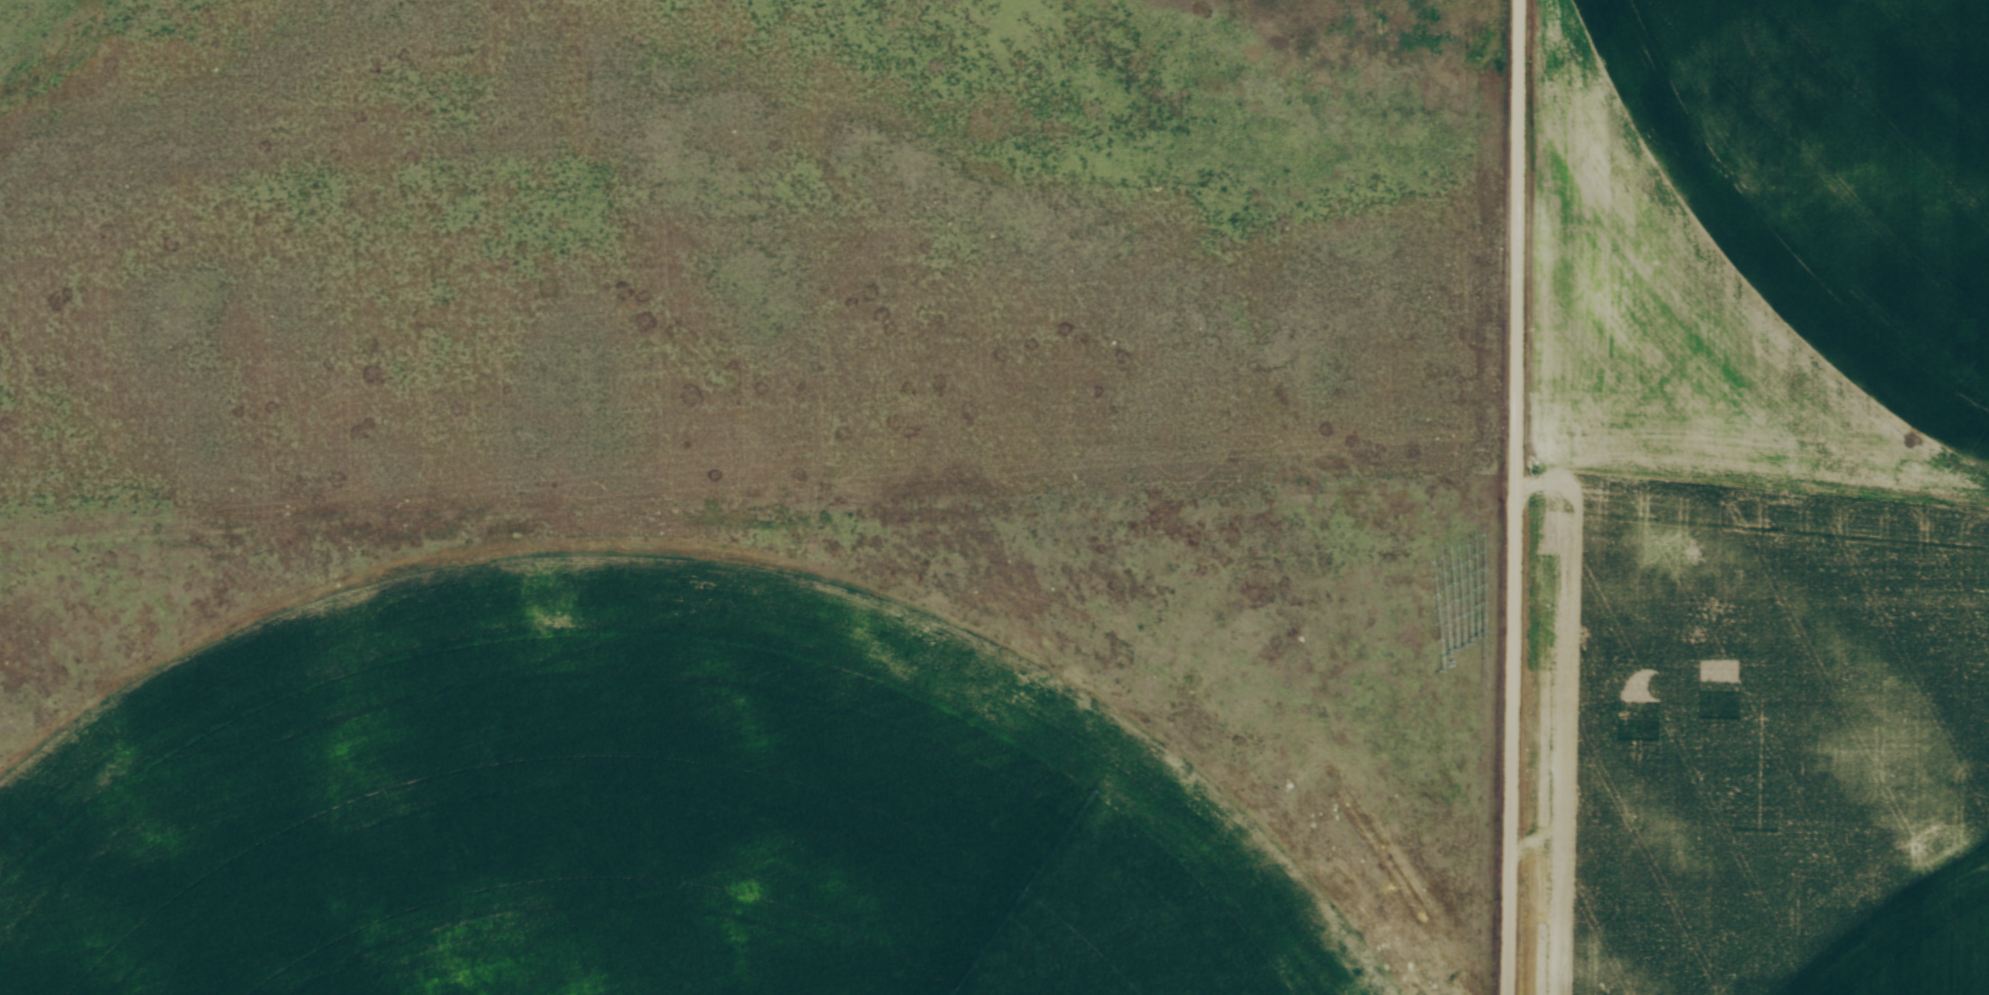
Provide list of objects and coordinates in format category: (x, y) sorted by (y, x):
road: (1515, 497)
crop: (640, 806)

